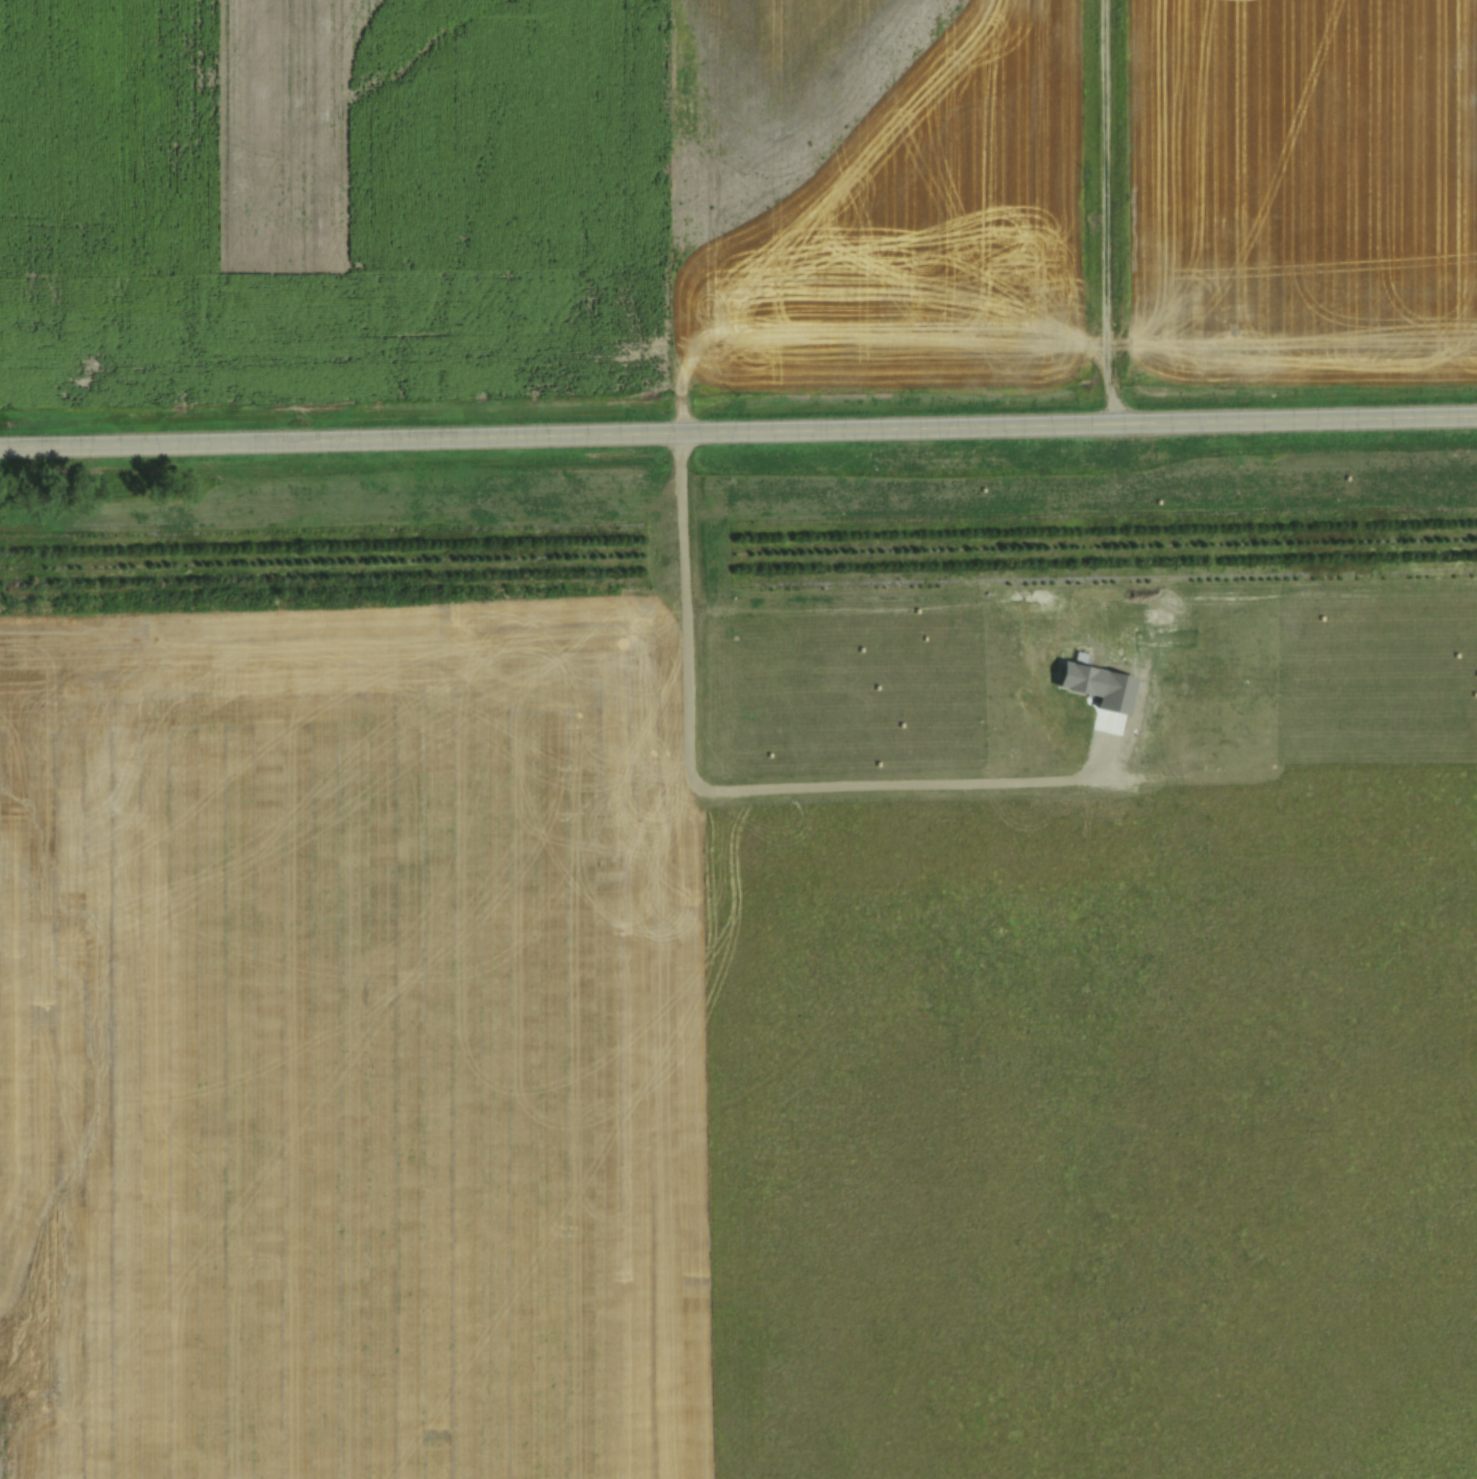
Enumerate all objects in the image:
road: (738, 427)

